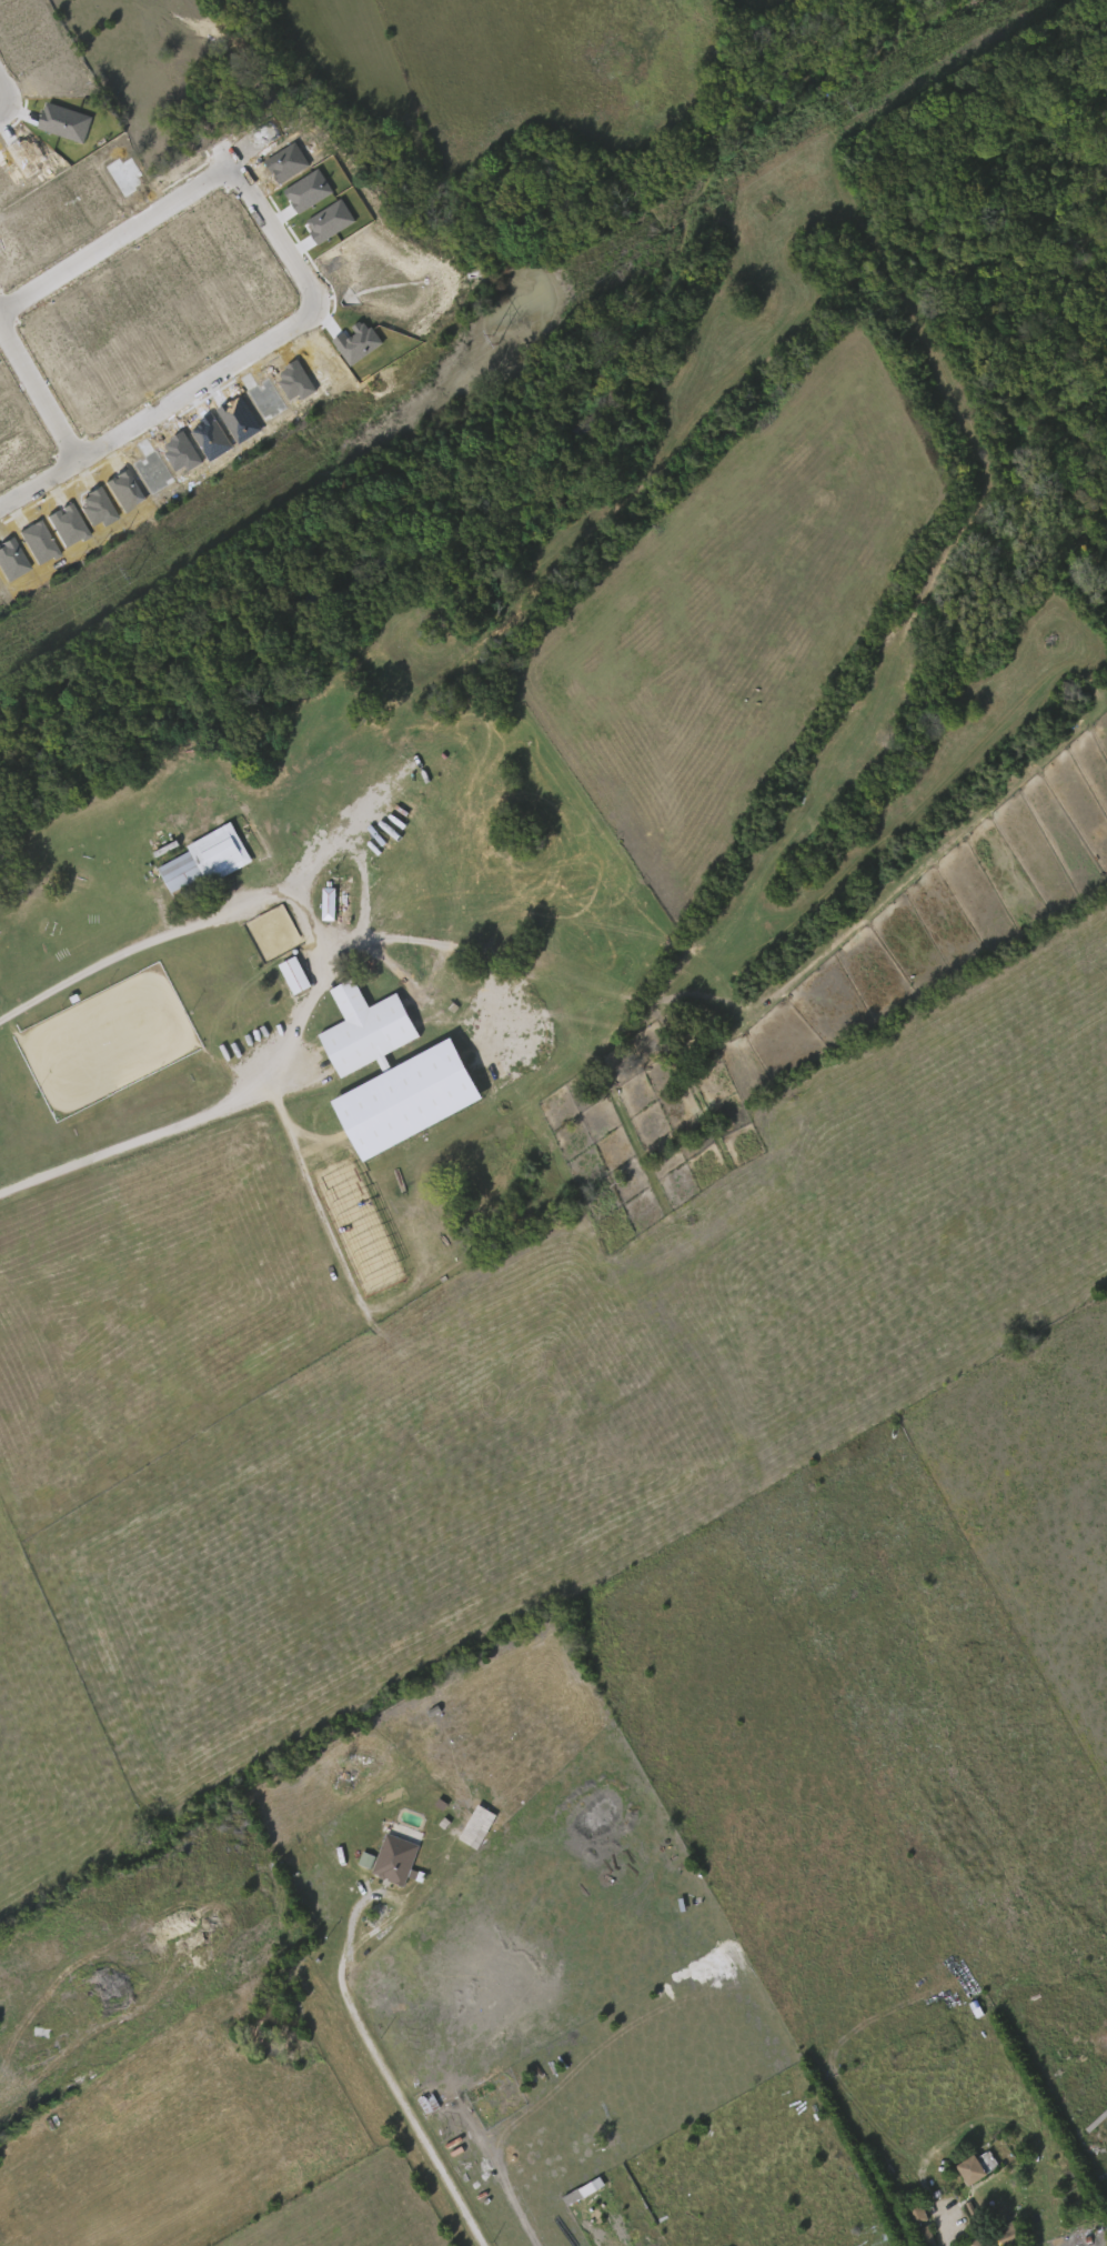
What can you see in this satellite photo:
road: (4, 96)
road: (4, 107)
power tower: (854, 107)
building: (66, 123)
building: (330, 221)
road: (114, 237)
road: (273, 237)
power tower: (499, 337)
building: (358, 343)
road: (37, 391)
road: (158, 404)
power tower: (131, 573)
building: (203, 859)
building: (328, 902)
road: (125, 950)
building: (293, 974)
road: (318, 990)
building: (363, 1027)
road: (294, 1083)
building: (403, 1097)
road: (122, 1145)
building: (198, 1324)
building: (118, 1374)
building: (477, 1827)
building: (391, 1857)
road: (413, 2117)
building: (975, 2164)
building: (583, 2192)
building: (915, 2212)
road: (592, 2230)
building: (1005, 2233)
building: (925, 2236)
road: (955, 2237)
building: (980, 2242)

